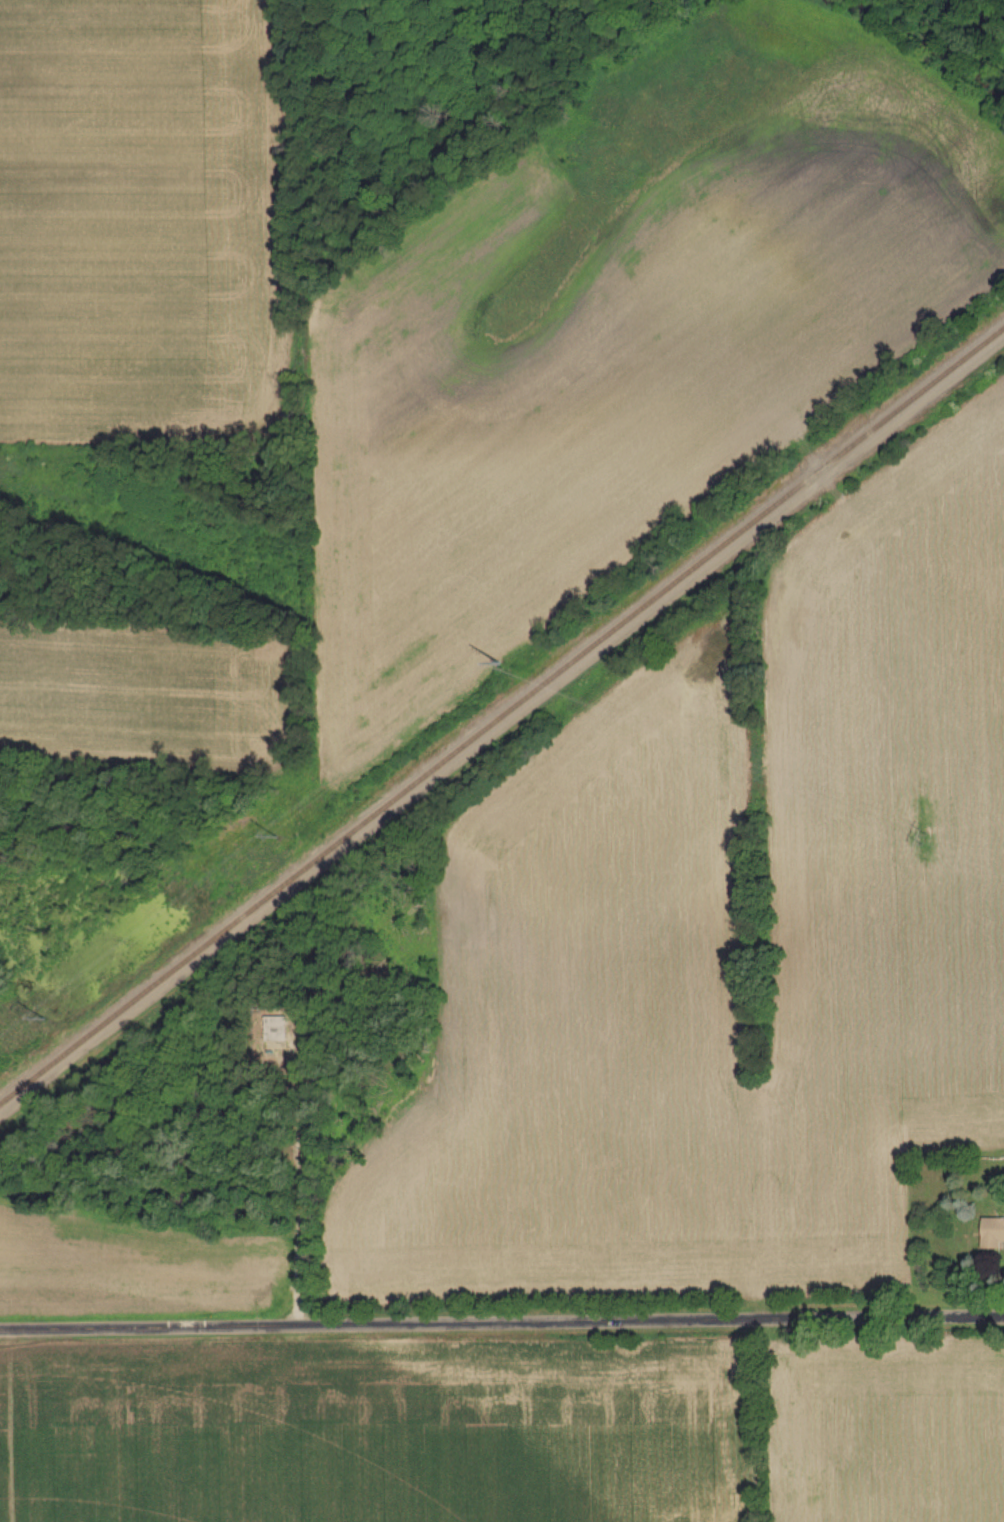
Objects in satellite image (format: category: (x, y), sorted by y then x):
railway: (502, 719)
building: (276, 1029)
building: (993, 1234)
road: (501, 1313)
crop: (895, 1429)
crop: (375, 1432)

